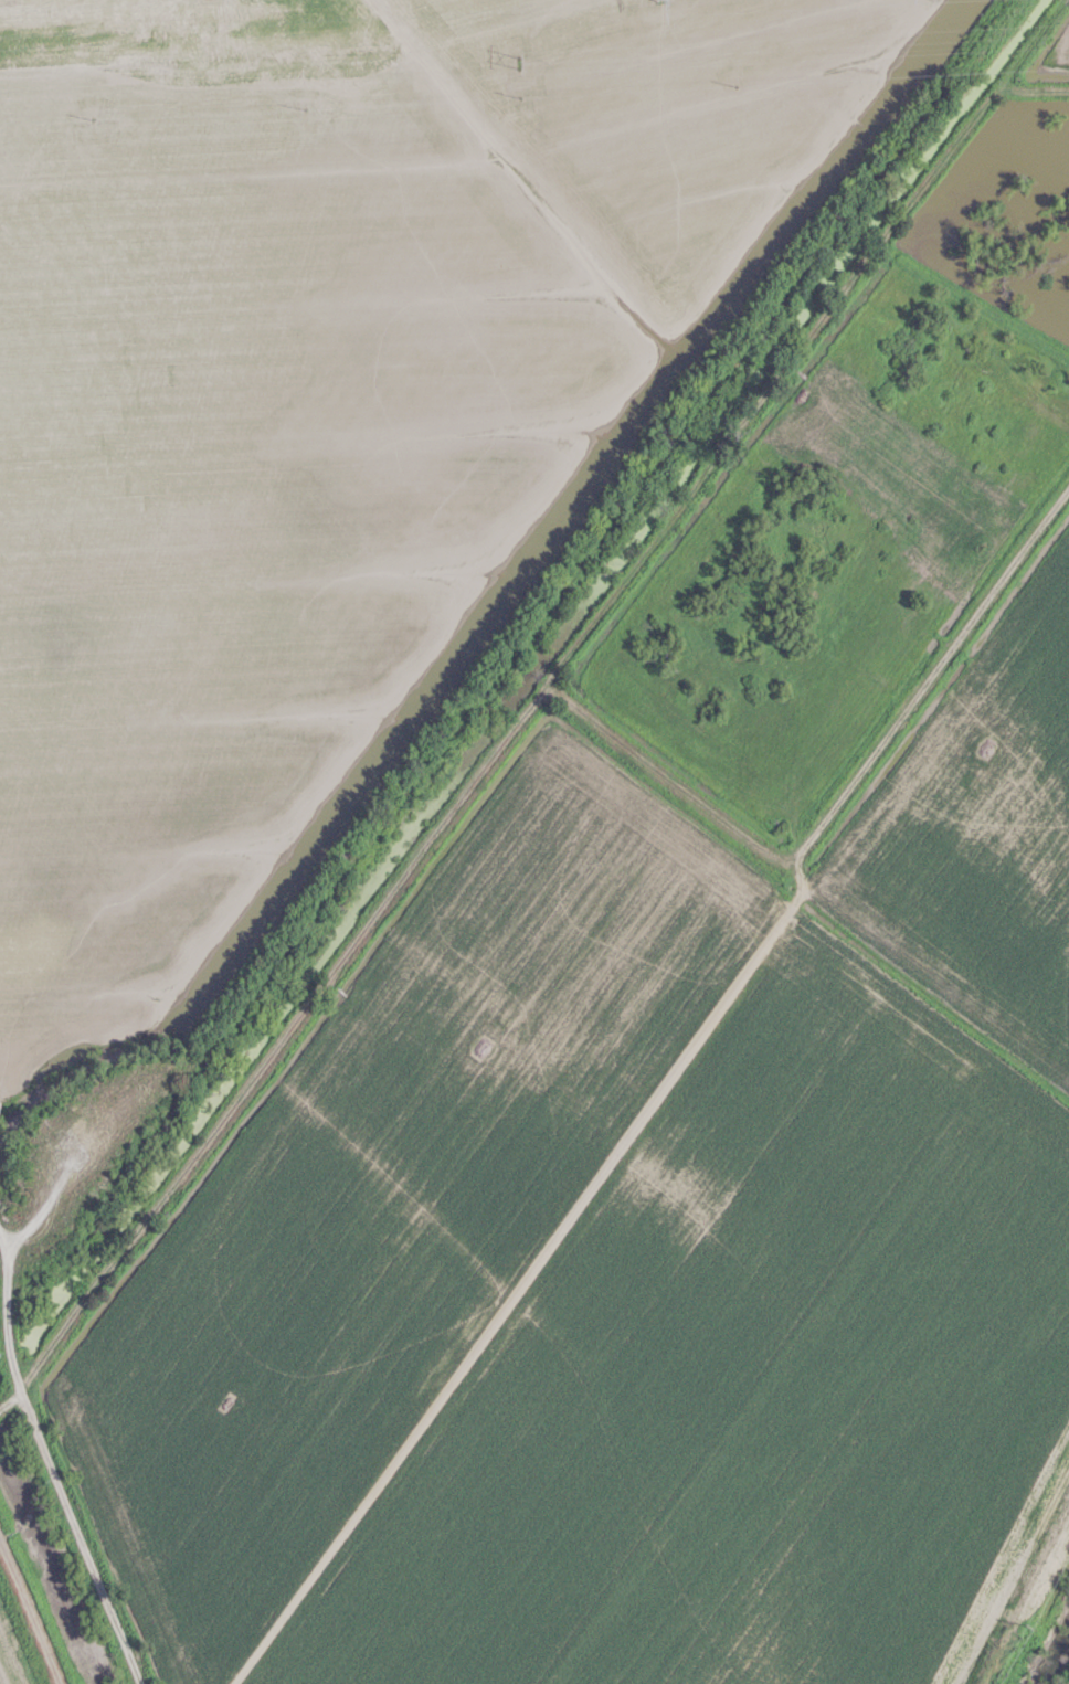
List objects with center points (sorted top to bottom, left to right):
power tower: (519, 64)

